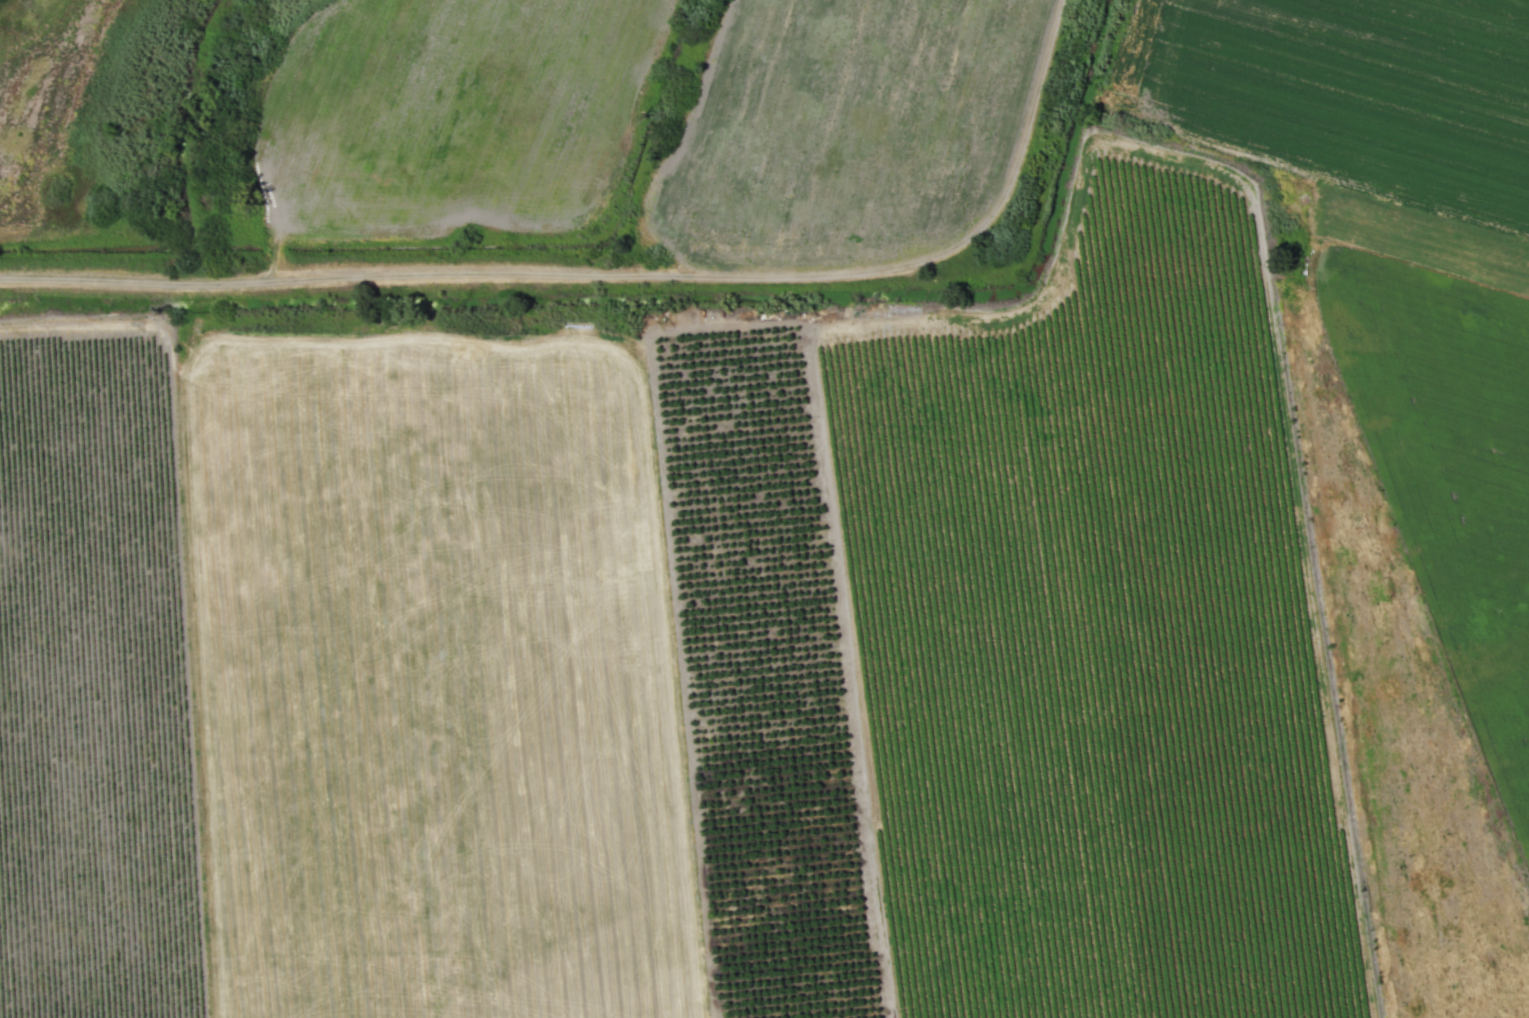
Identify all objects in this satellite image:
airport: (1423, 239)
airport runway: (1429, 242)

